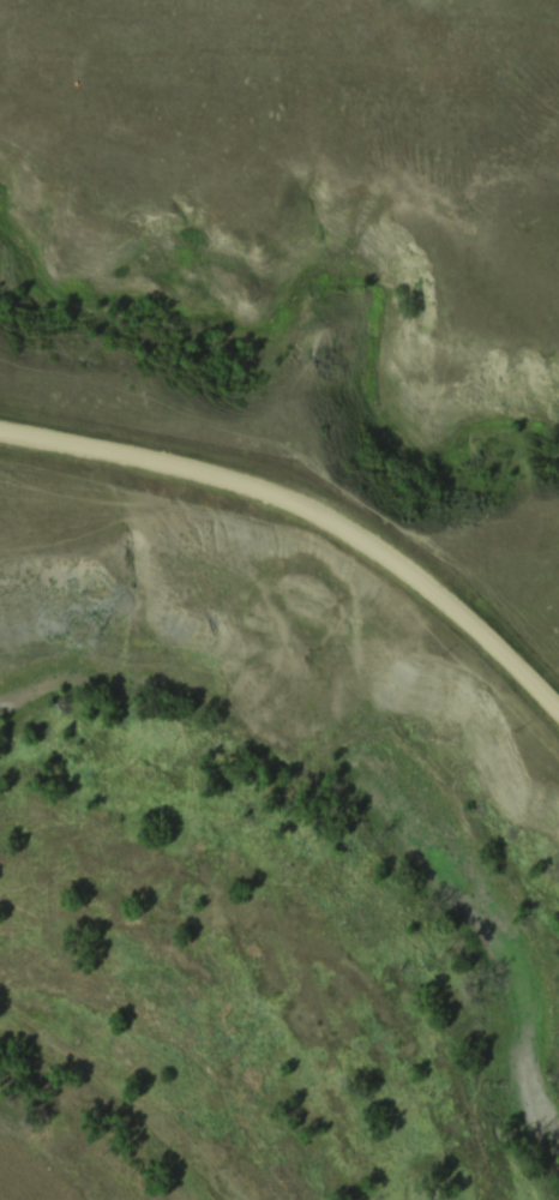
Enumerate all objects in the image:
road: (313, 509)

